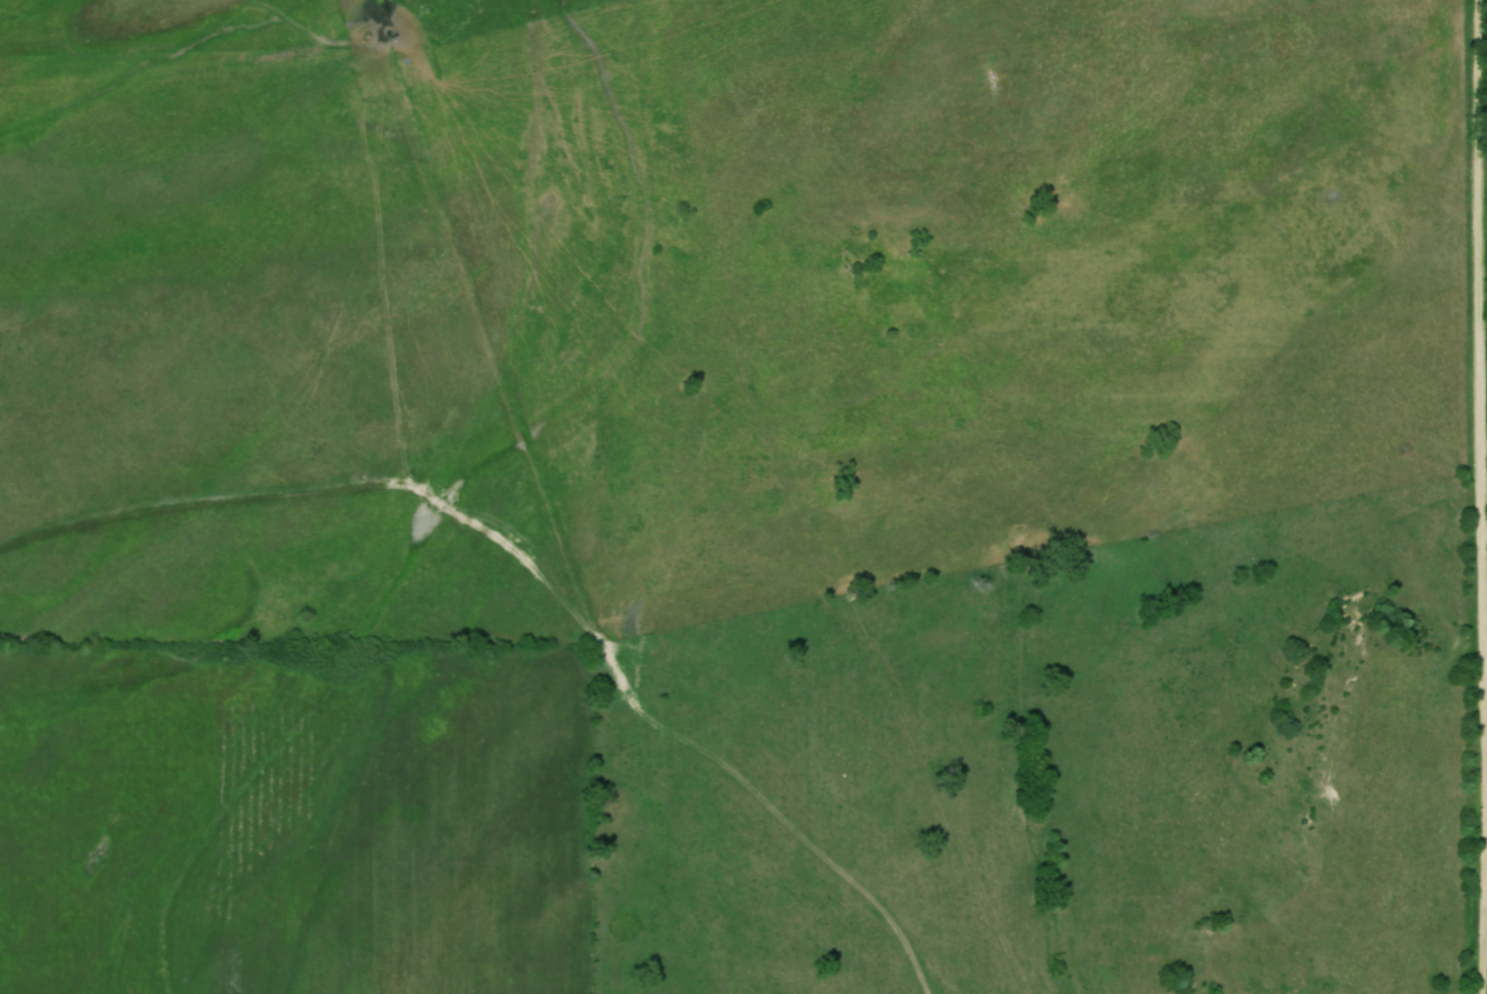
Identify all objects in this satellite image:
road: (1478, 317)
road: (1486, 959)

